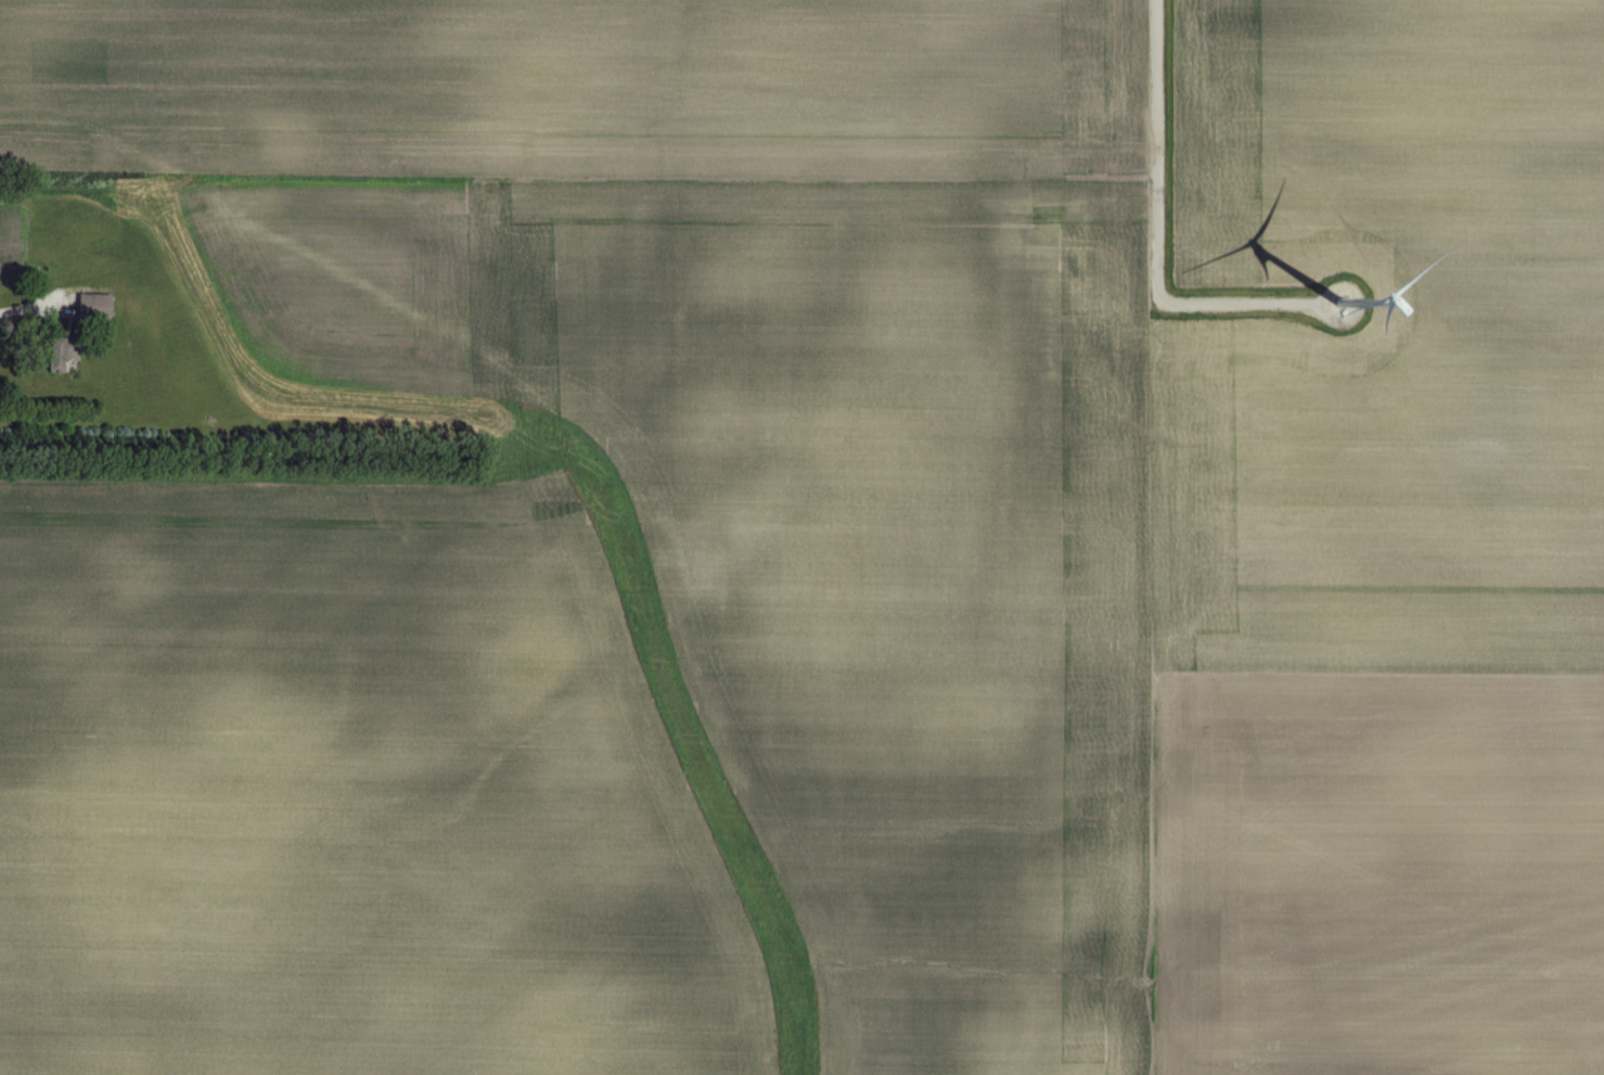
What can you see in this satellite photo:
wind turbine: (1339, 305)
road: (25, 308)

